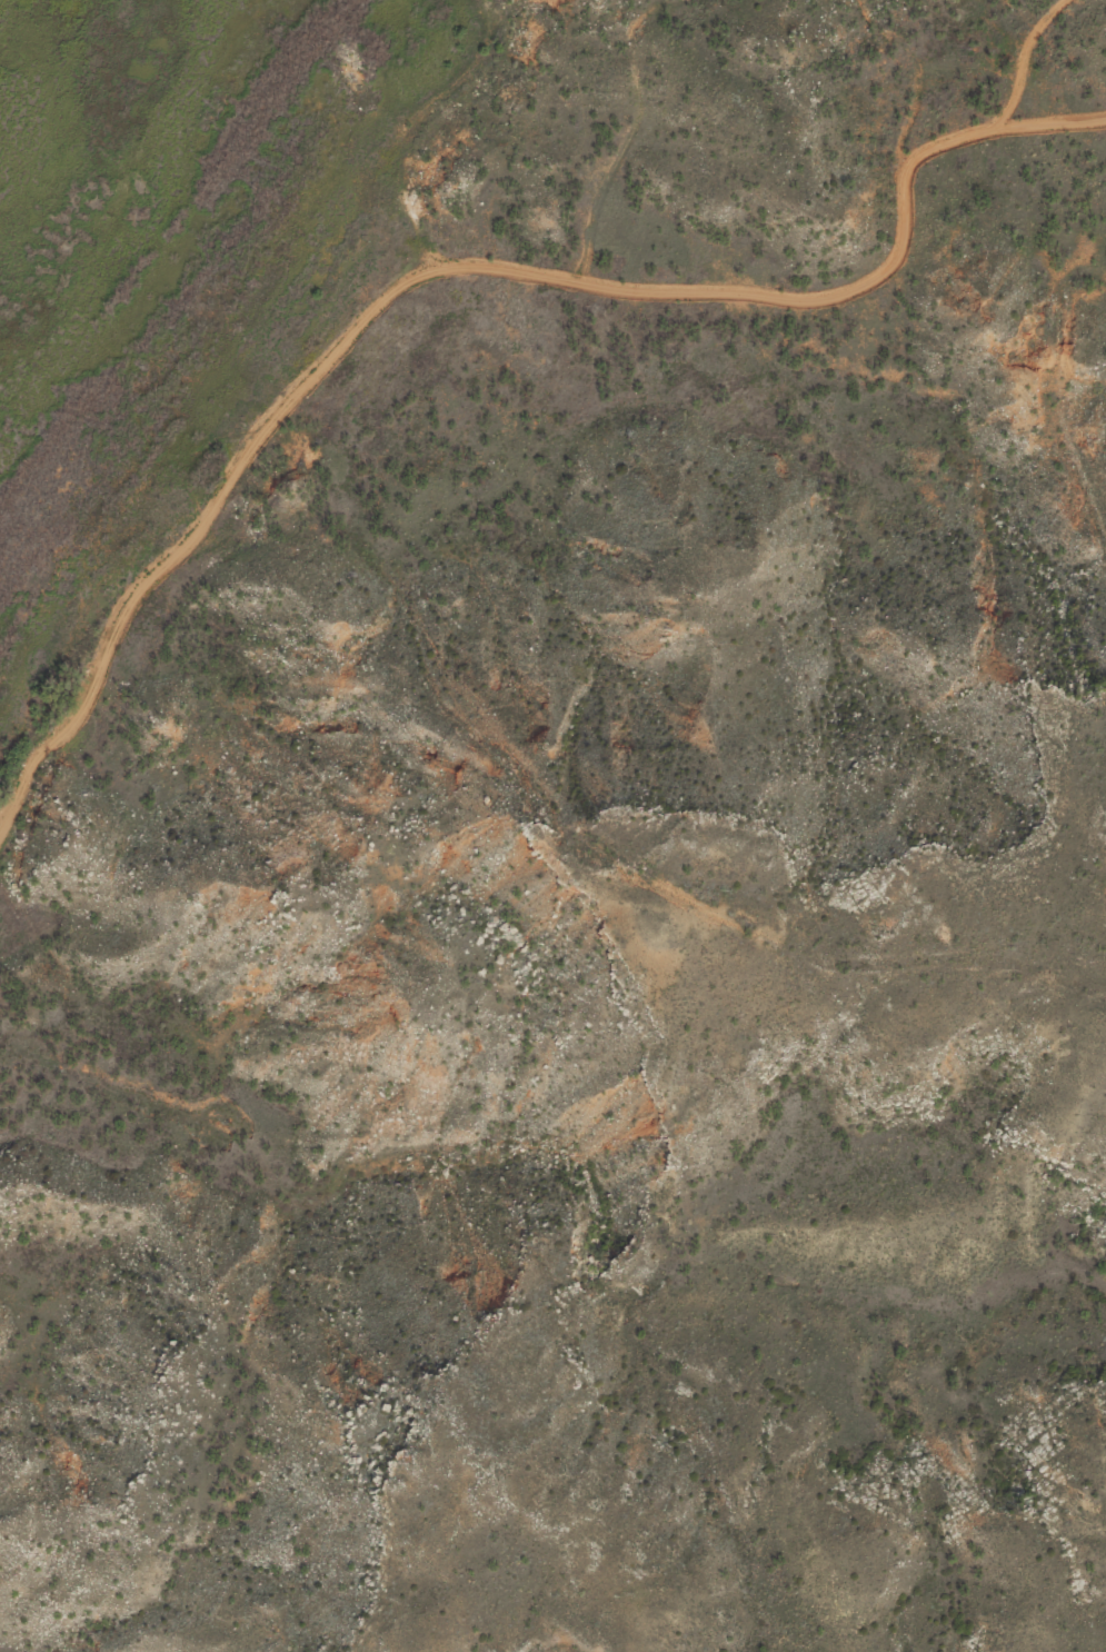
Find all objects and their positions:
quarry: (588, 20)
road: (1033, 60)
road: (921, 68)
road: (464, 266)

